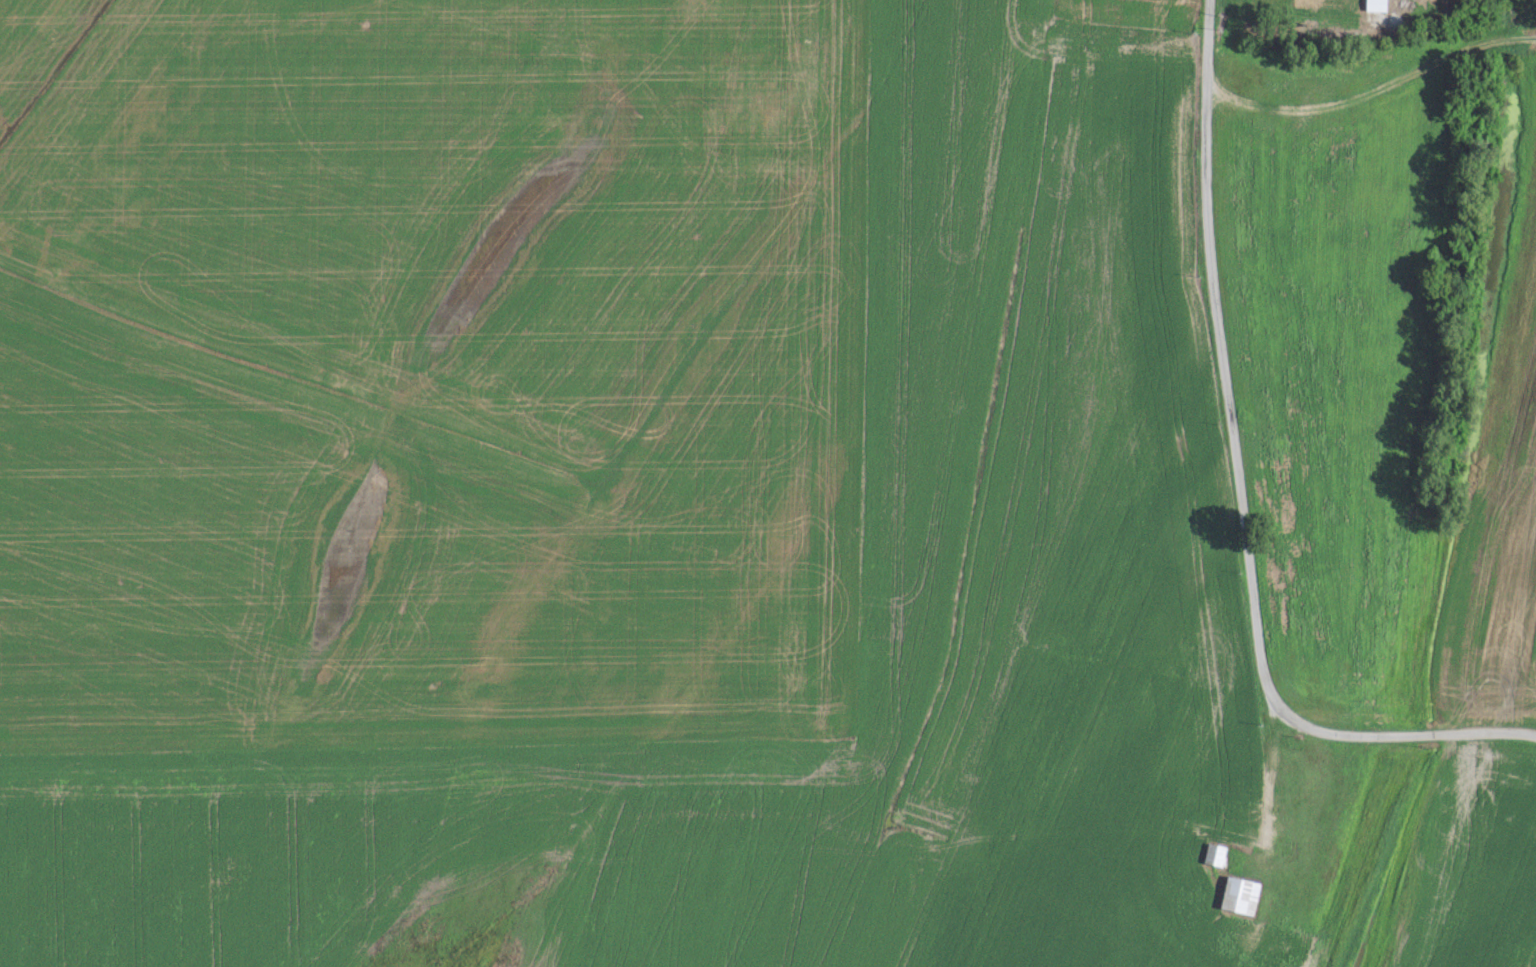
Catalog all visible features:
building: (1375, 4)
road: (1236, 487)
building: (1214, 853)
building: (1239, 894)

